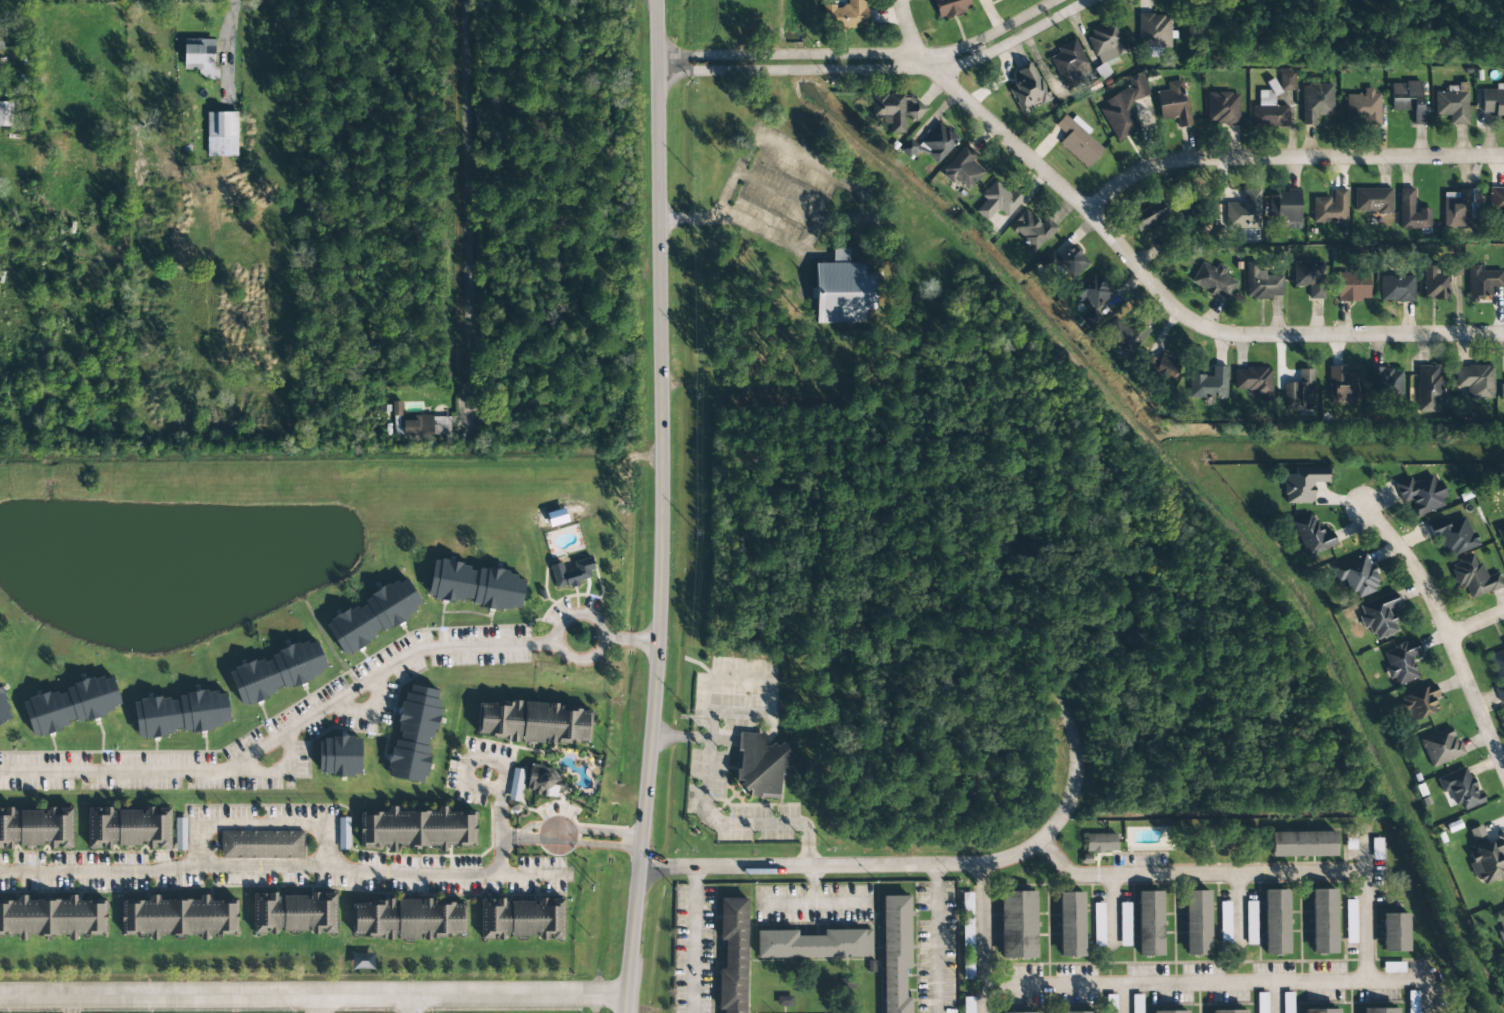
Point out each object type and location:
building: (939, 7)
building: (843, 16)
park: (743, 18)
building: (1153, 30)
building: (1, 39)
building: (1105, 47)
building: (197, 56)
road: (874, 62)
building: (1070, 64)
building: (1286, 82)
building: (1026, 90)
building: (1409, 100)
building: (1171, 101)
building: (1315, 102)
building: (1493, 104)
building: (1451, 106)
building: (1362, 107)
building: (896, 109)
building: (1221, 109)
building: (1120, 110)
building: (1267, 112)
building: (5, 114)
building: (220, 134)
building: (937, 141)
building: (1076, 142)
building: (908, 148)
road: (1287, 158)
building: (962, 168)
building: (997, 201)
building: (1371, 201)
building: (1496, 201)
building: (1284, 205)
building: (1330, 208)
building: (1459, 208)
road: (468, 210)
building: (1243, 211)
building: (1411, 212)
building: (1144, 217)
building: (1029, 231)
building: (1060, 263)
building: (1455, 268)
road: (1147, 276)
building: (1309, 277)
building: (1211, 281)
building: (1432, 282)
building: (1262, 283)
building: (1481, 284)
building: (1351, 287)
building: (1396, 288)
building: (839, 290)
building: (1091, 298)
building: (1124, 335)
building: (1161, 366)
building: (1474, 380)
building: (1253, 382)
building: (1384, 383)
building: (1207, 384)
building: (1342, 386)
building: (1428, 389)
building: (1298, 392)
building: (1501, 392)
building: (396, 408)
building: (423, 426)
building: (1300, 484)
building: (1420, 493)
road: (661, 507)
building: (1310, 534)
building: (1501, 534)
building: (1453, 537)
building: (570, 572)
building: (1356, 576)
building: (1473, 577)
building: (473, 585)
building: (370, 614)
road: (578, 615)
building: (1379, 616)
road: (1475, 623)
road: (1446, 633)
building: (1503, 644)
building: (1401, 661)
building: (274, 671)
building: (1498, 673)
building: (1418, 703)
building: (68, 704)
road: (334, 705)
building: (3, 712)
building: (177, 713)
building: (530, 721)
building: (411, 733)
building: (1440, 747)
building: (335, 755)
building: (757, 767)
building: (541, 781)
building: (515, 785)
building: (1458, 788)
road: (267, 821)
building: (33, 827)
building: (125, 827)
road: (605, 827)
building: (413, 828)
building: (1475, 832)
building: (180, 834)
building: (343, 834)
road: (541, 834)
building: (1099, 843)
building: (260, 844)
road: (601, 844)
building: (1301, 844)
building: (1375, 849)
building: (1485, 862)
road: (925, 863)
road: (267, 866)
road: (1109, 905)
building: (290, 913)
building: (50, 917)
building: (175, 917)
building: (404, 918)
building: (518, 918)
building: (967, 919)
building: (1224, 919)
building: (1349, 919)
building: (1249, 921)
building: (1274, 921)
building: (1321, 921)
building: (1499, 922)
building: (1148, 923)
building: (1195, 923)
building: (1016, 924)
building: (1069, 924)
building: (1124, 924)
building: (1097, 925)
building: (1393, 932)
road: (694, 939)
building: (812, 944)
building: (730, 954)
building: (893, 954)
road: (1333, 986)
road: (1402, 986)
road: (982, 996)
road: (315, 1000)
building: (784, 1001)
building: (1412, 1002)
building: (1136, 1003)
building: (1262, 1003)
building: (1111, 1004)
building: (1287, 1004)
building: (968, 1005)
road: (70, 1006)
road: (319, 1006)
road: (408, 1007)
building: (1378, 1010)
building: (1168, 1011)
building: (1227, 1011)
building: (1319, 1011)
building: (1017, 1012)
building: (1076, 1012)

